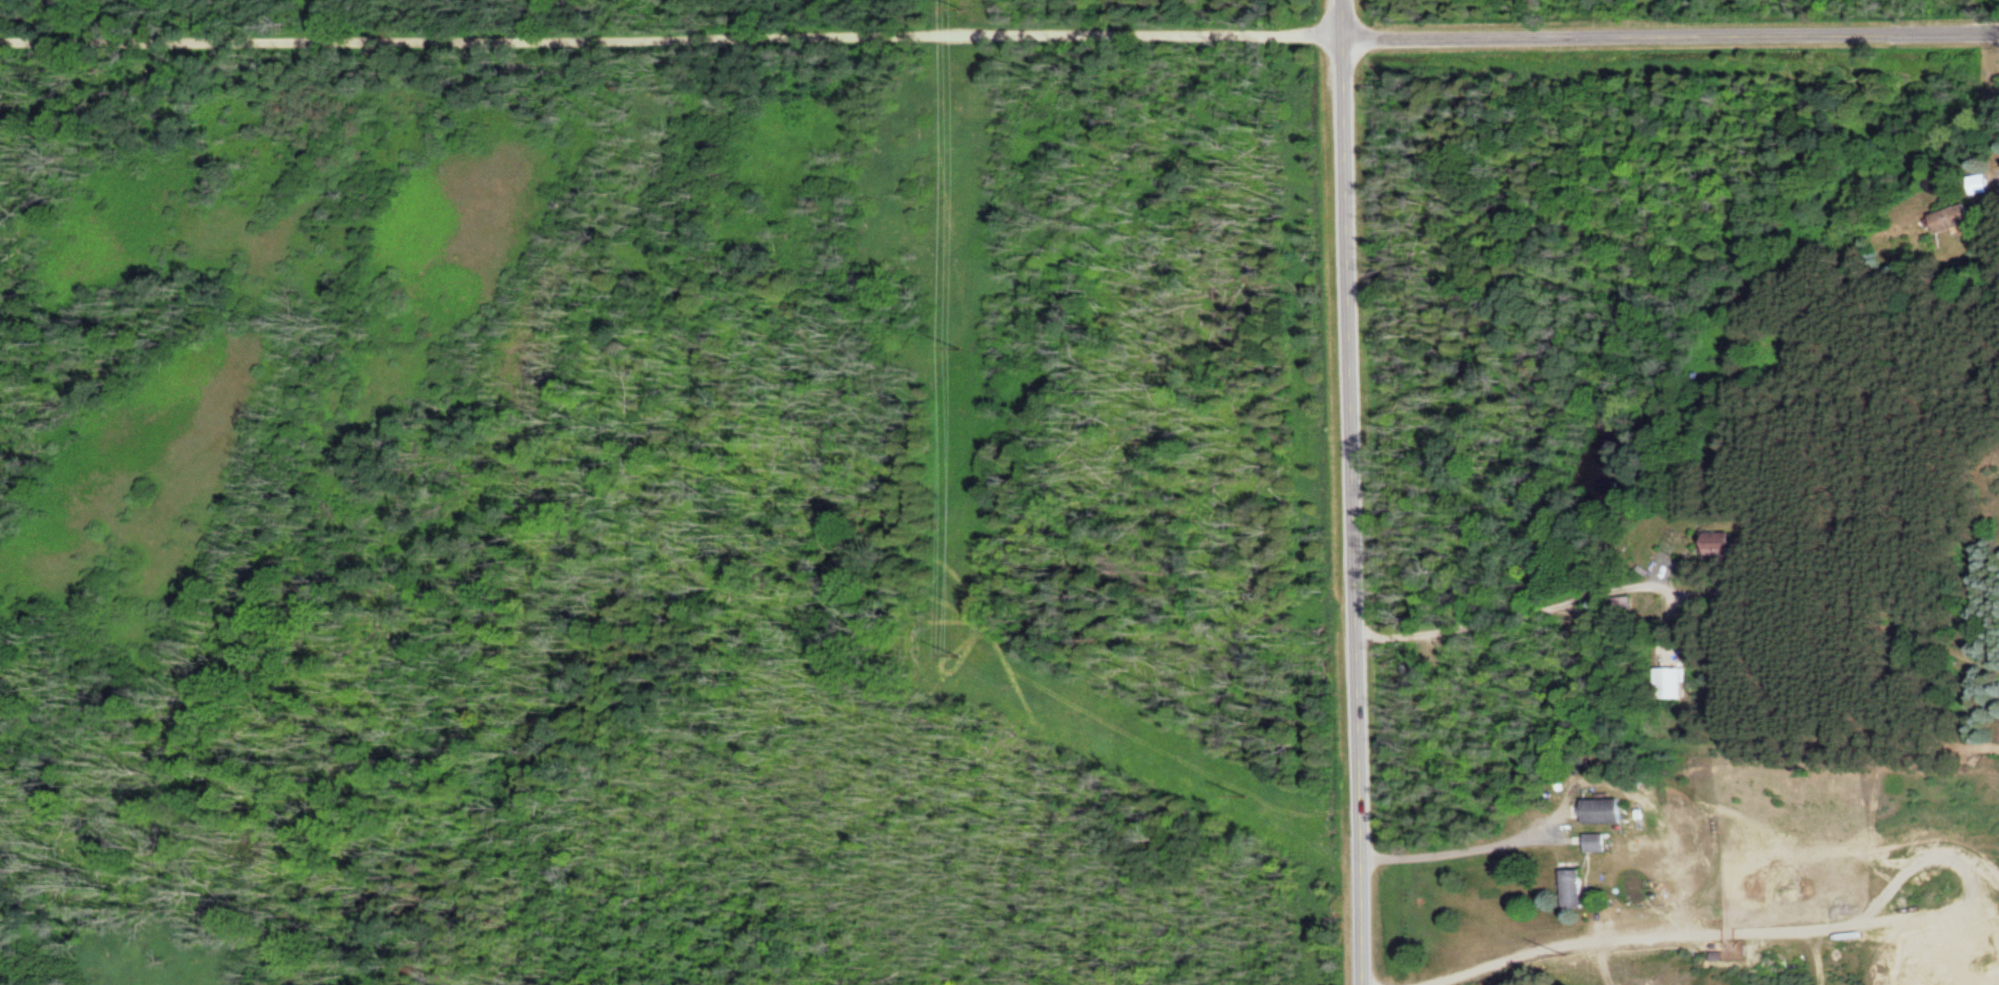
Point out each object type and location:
road: (671, 37)
road: (1670, 37)
building: (1948, 220)
road: (1347, 492)
building: (1718, 545)
building: (1623, 604)
building: (1666, 682)
building: (1605, 811)
building: (1631, 821)
building: (1594, 843)
building: (1575, 889)

